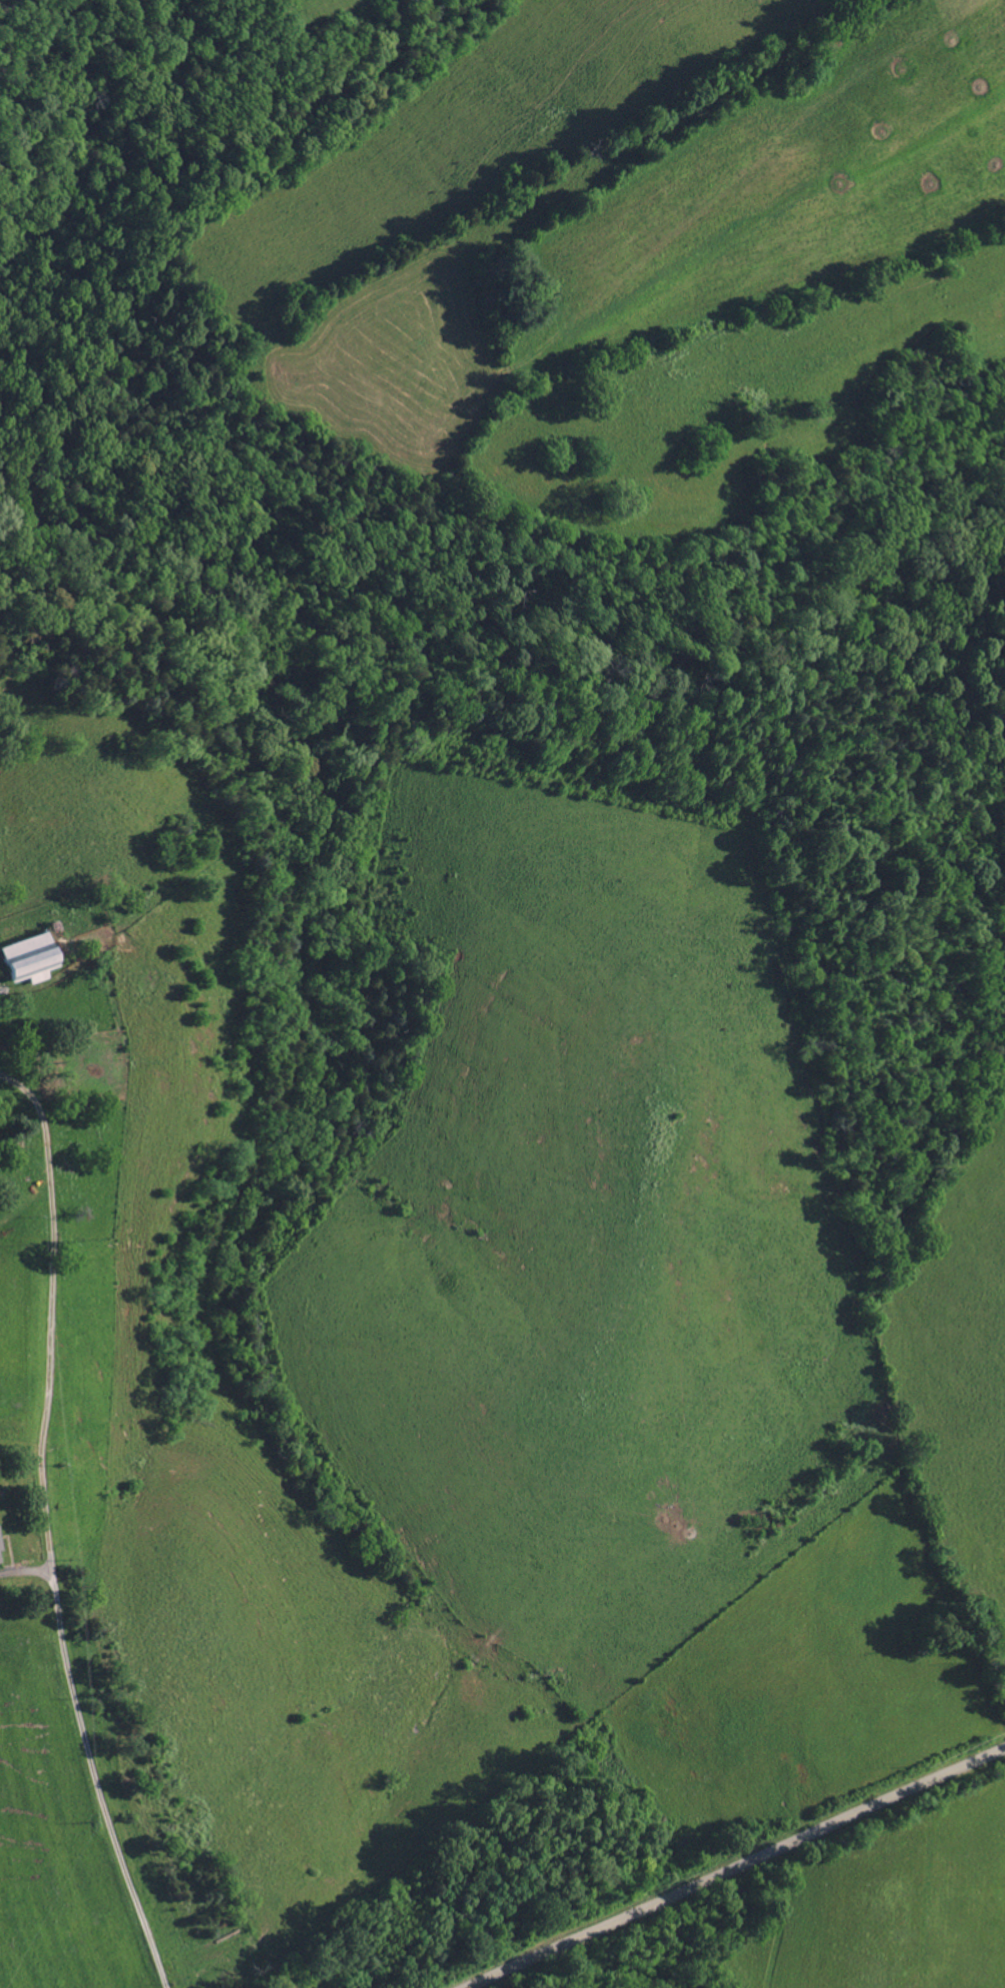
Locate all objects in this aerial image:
building: (22, 956)
road: (46, 1529)
building: (0, 1549)
road: (25, 1570)
road: (737, 1868)
building: (356, 1966)

